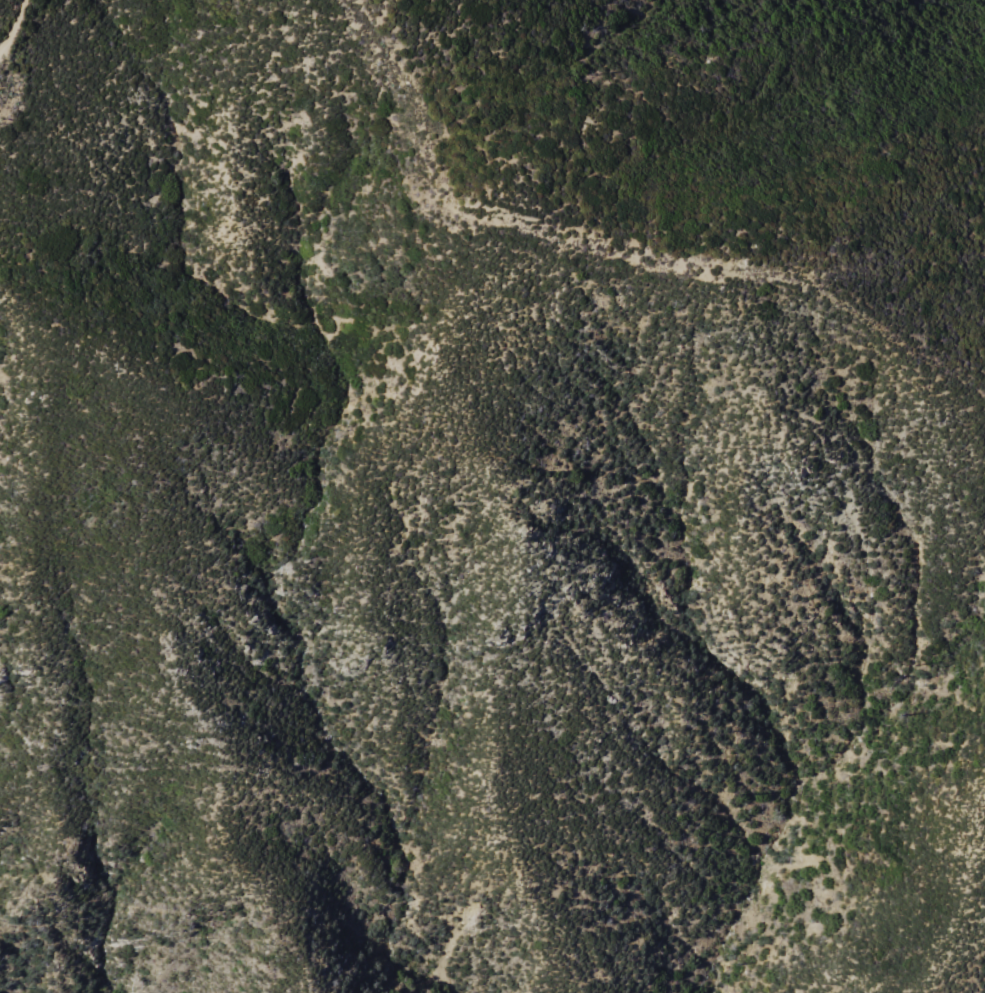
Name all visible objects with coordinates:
road: (17, 27)

